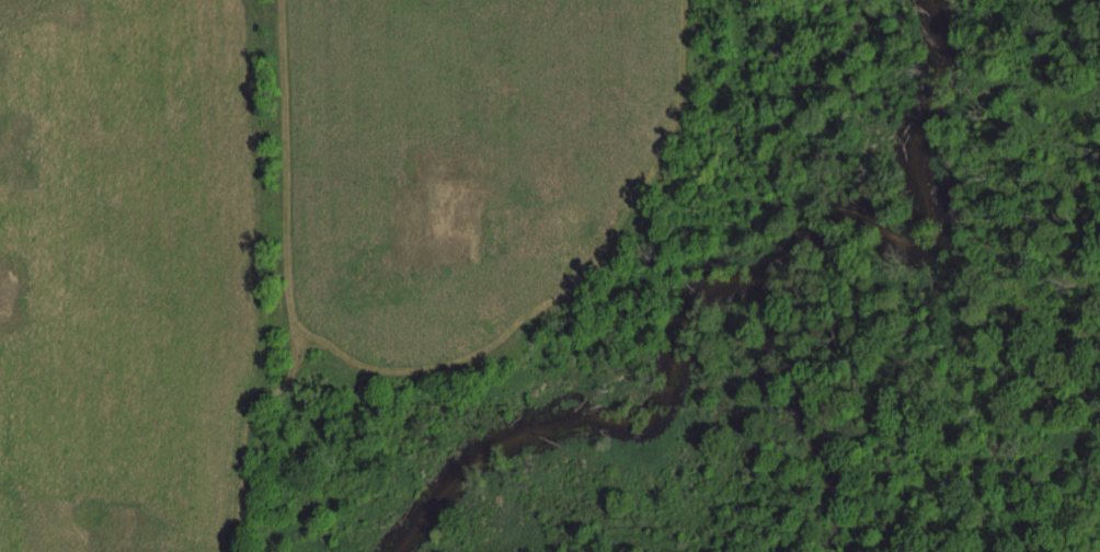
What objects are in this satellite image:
river: (725, 353)

